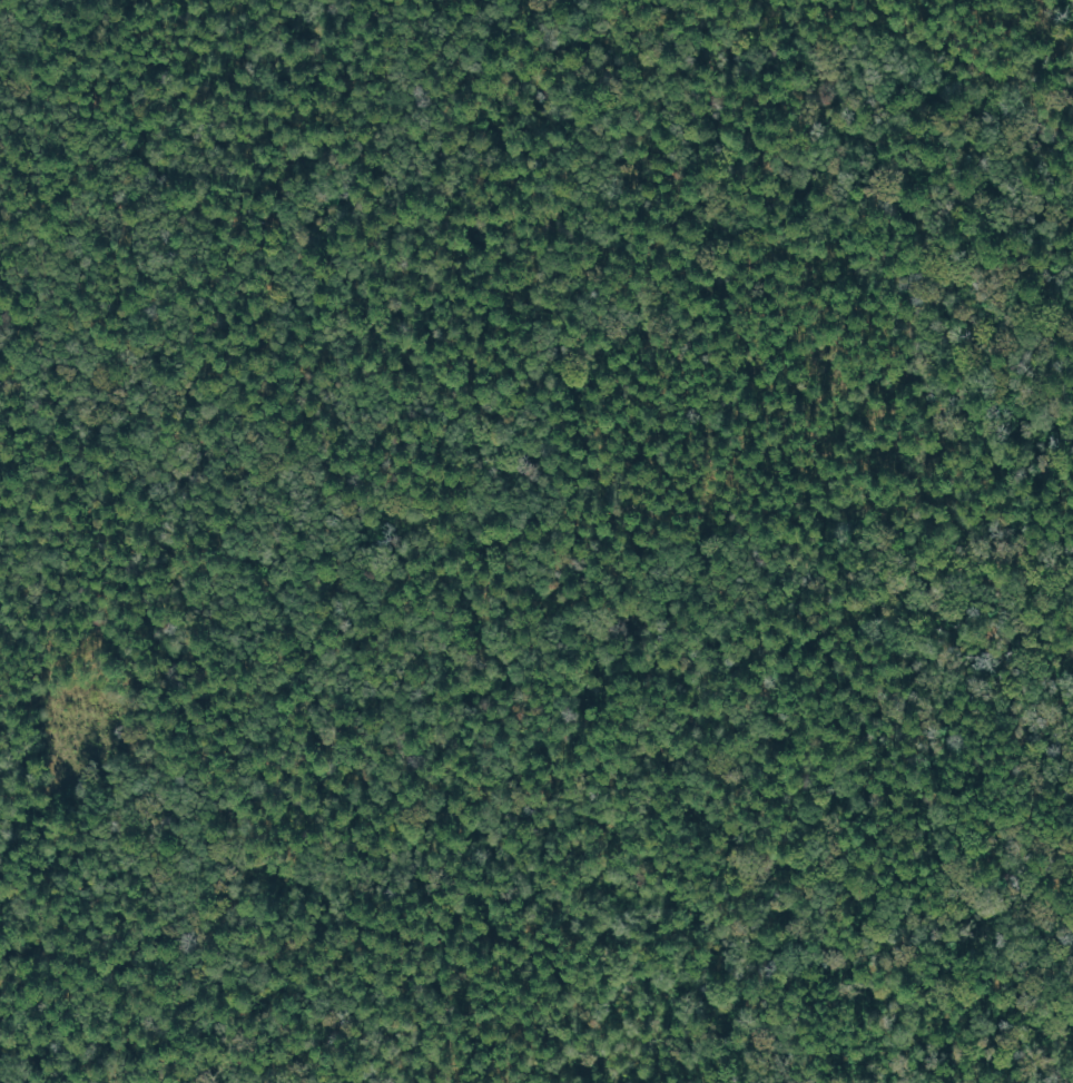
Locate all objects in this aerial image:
road: (604, 732)

